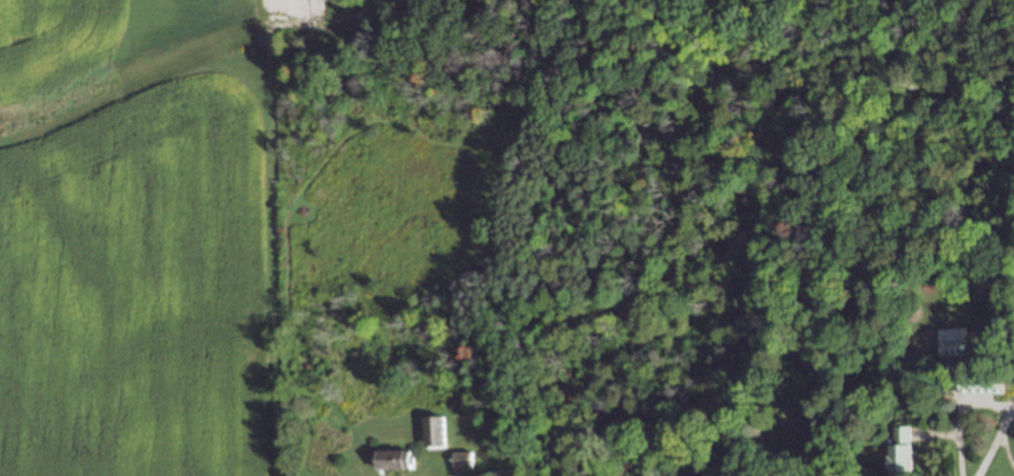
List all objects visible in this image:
road: (289, 2)
crop: (52, 41)
park: (648, 281)
crop: (145, 286)
building: (995, 326)
building: (949, 341)
building: (977, 382)
road: (957, 415)
building: (429, 434)
road: (994, 439)
road: (729, 442)
road: (1004, 451)
building: (896, 452)
building: (457, 459)
building: (389, 461)
road: (433, 468)

